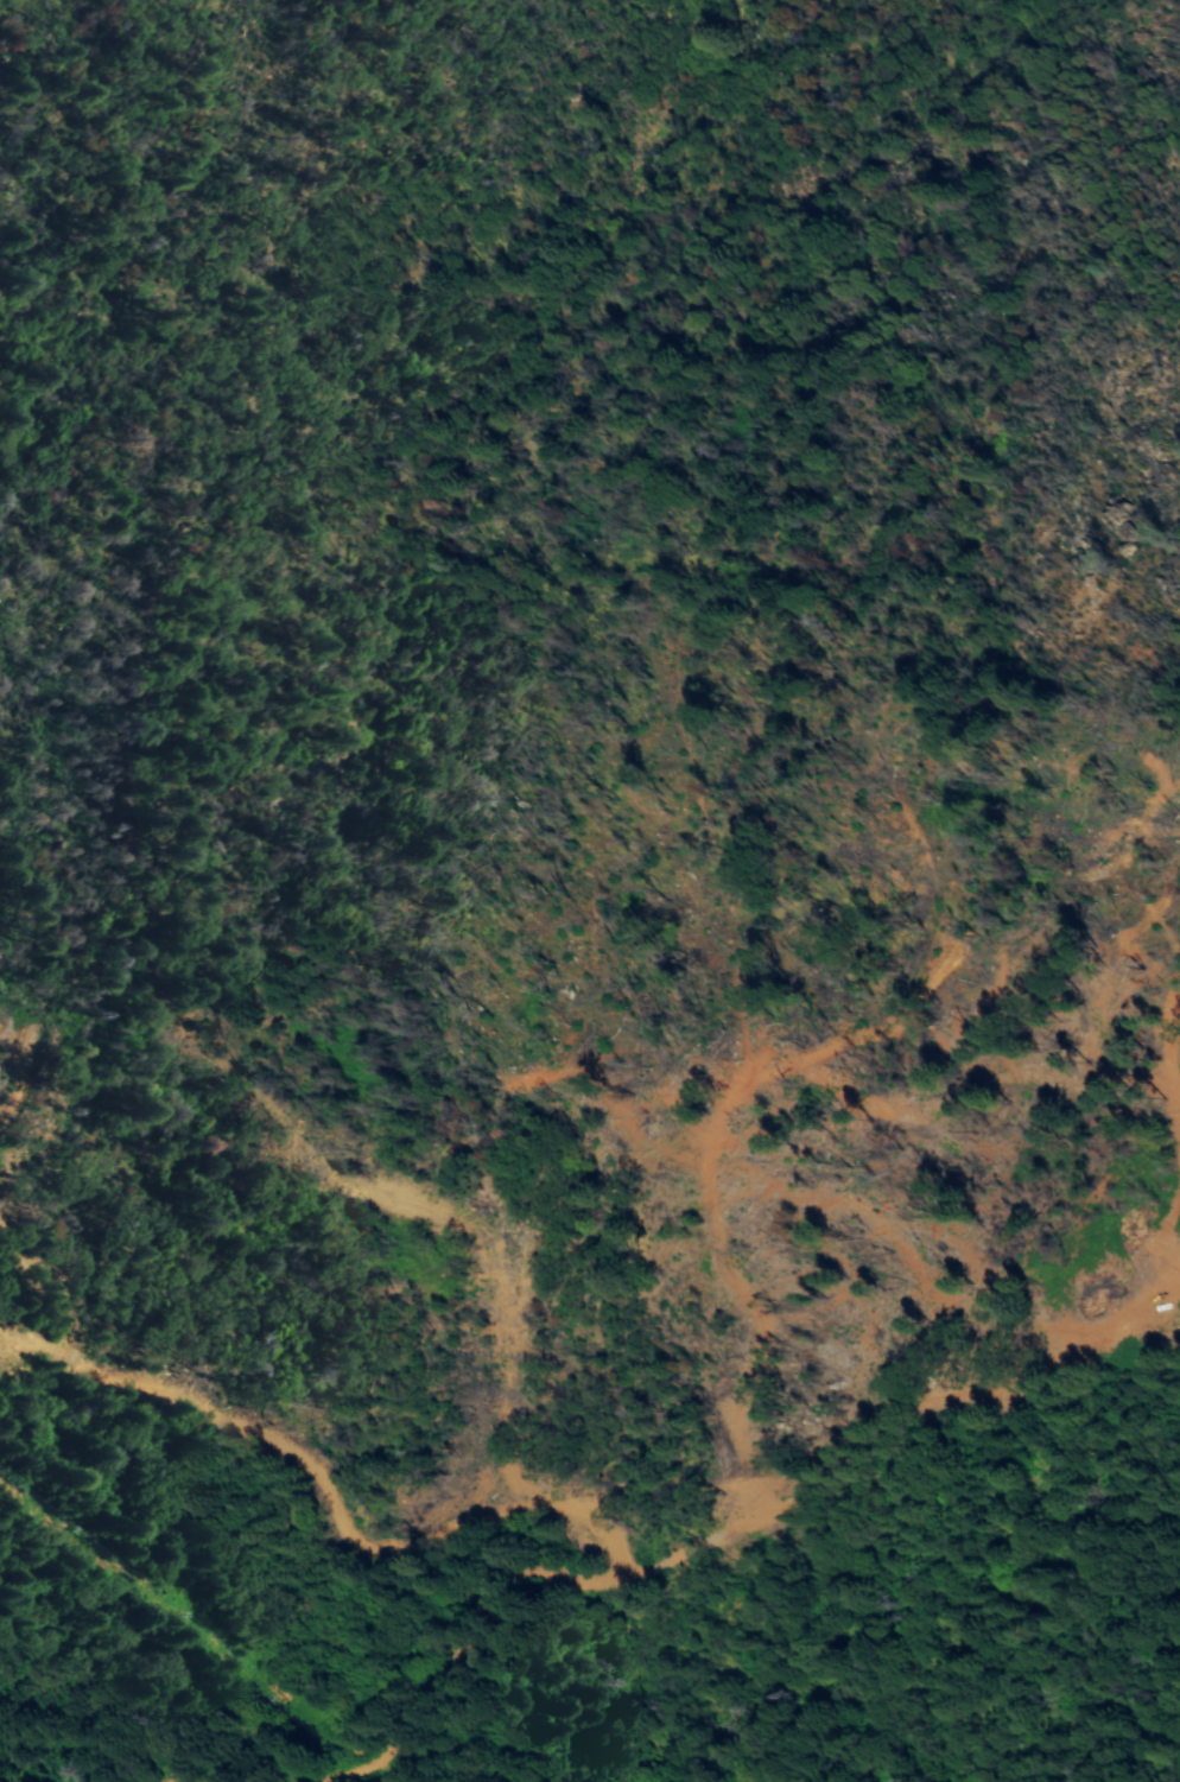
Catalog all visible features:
road: (343, 1472)

